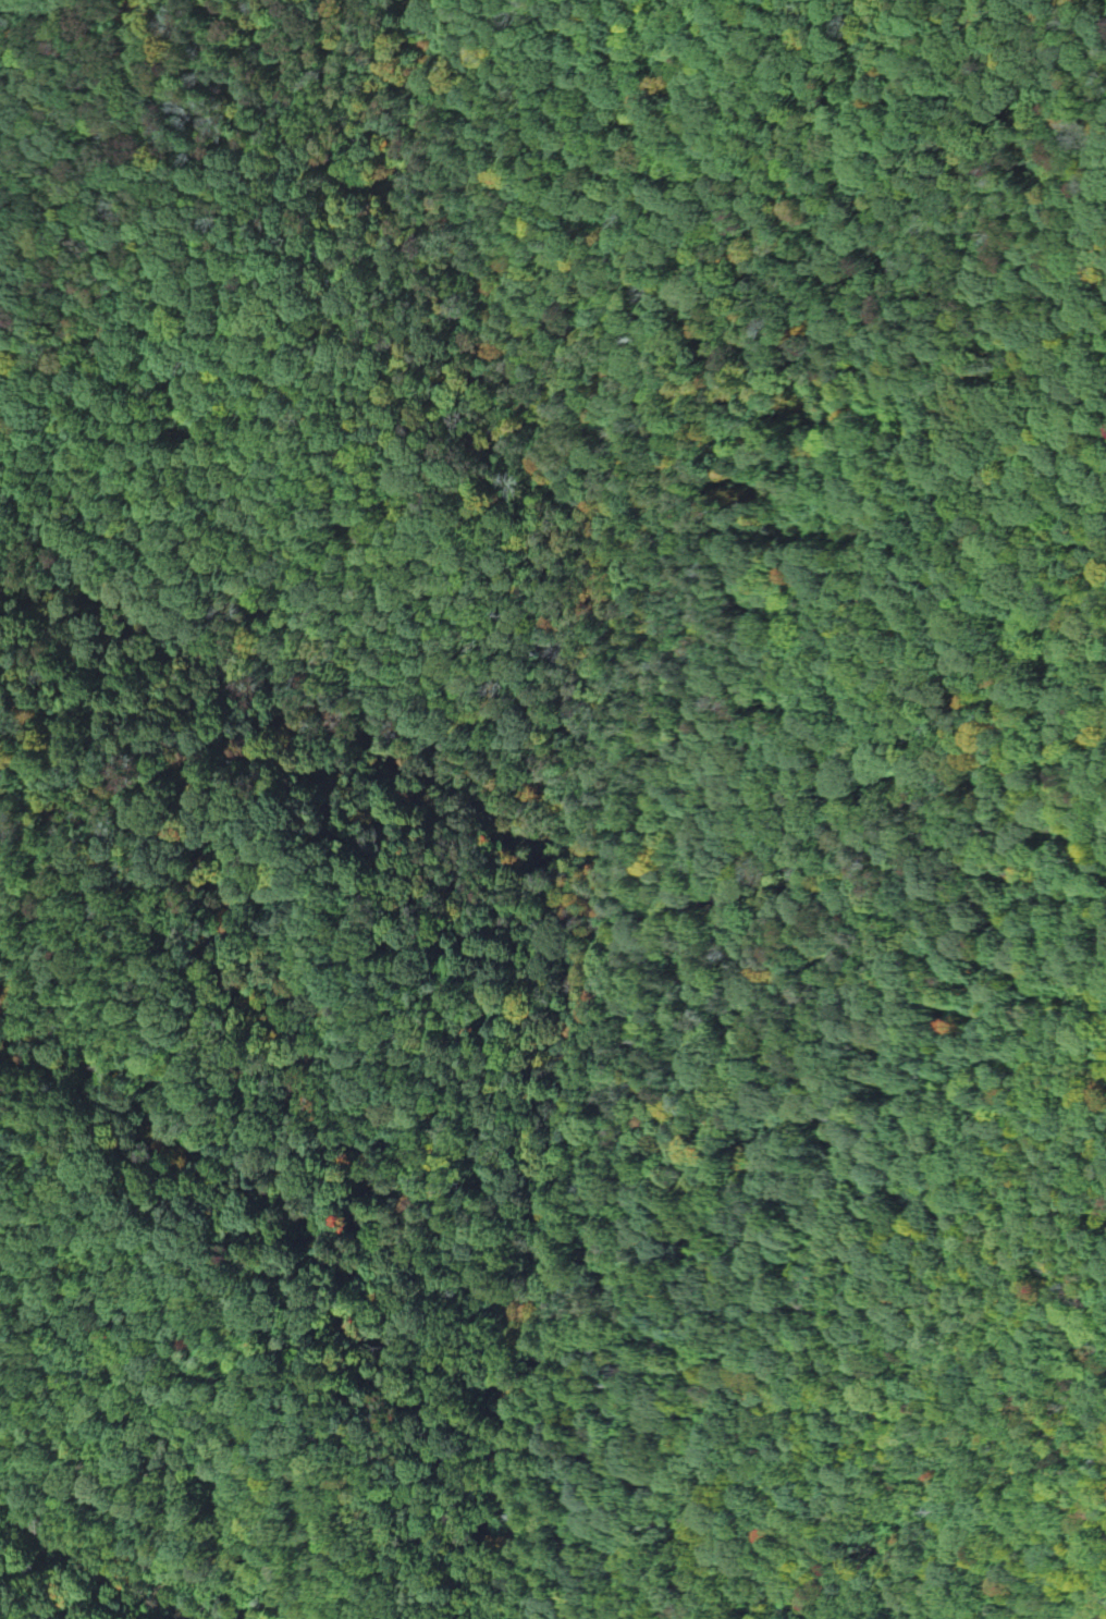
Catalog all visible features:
road: (173, 971)

